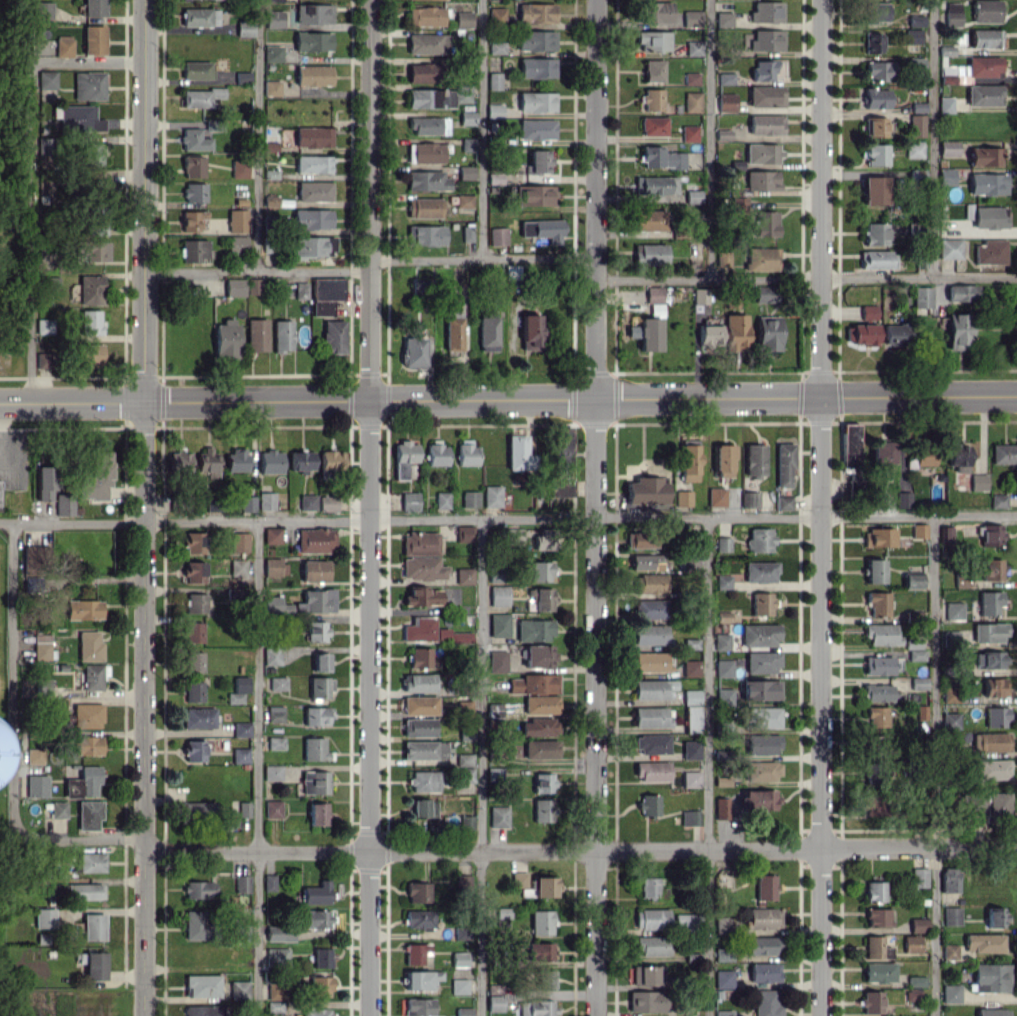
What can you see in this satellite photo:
building: (94, 7)
building: (42, 10)
building: (655, 11)
building: (766, 11)
building: (985, 11)
building: (875, 12)
building: (313, 13)
building: (536, 13)
building: (952, 14)
building: (496, 15)
building: (425, 16)
building: (199, 17)
building: (691, 18)
building: (273, 19)
building: (463, 19)
building: (723, 19)
building: (915, 20)
building: (244, 28)
building: (912, 36)
building: (984, 38)
building: (93, 39)
building: (536, 40)
building: (653, 40)
building: (766, 40)
building: (312, 41)
building: (871, 42)
building: (427, 43)
building: (63, 47)
building: (693, 47)
building: (272, 53)
road: (85, 62)
building: (915, 64)
building: (536, 67)
building: (966, 67)
building: (196, 70)
building: (653, 70)
building: (762, 70)
building: (877, 70)
building: (423, 72)
building: (313, 75)
building: (242, 76)
building: (725, 78)
building: (45, 79)
building: (493, 80)
building: (88, 85)
building: (271, 88)
building: (462, 93)
building: (983, 94)
building: (764, 96)
building: (199, 97)
building: (429, 98)
building: (875, 98)
building: (652, 99)
building: (536, 102)
building: (691, 102)
building: (725, 102)
building: (944, 104)
building: (917, 106)
building: (494, 110)
building: (466, 117)
building: (79, 118)
building: (765, 124)
building: (428, 125)
building: (916, 125)
building: (653, 126)
building: (875, 127)
road: (481, 129)
building: (536, 129)
building: (688, 133)
road: (256, 135)
building: (312, 136)
road: (931, 138)
building: (194, 139)
road: (708, 139)
building: (467, 144)
building: (948, 147)
building: (913, 149)
building: (425, 152)
building: (92, 153)
building: (761, 153)
building: (875, 154)
building: (984, 156)
building: (661, 158)
building: (539, 160)
building: (312, 164)
building: (191, 166)
building: (239, 169)
building: (465, 172)
building: (945, 176)
building: (427, 180)
building: (760, 180)
building: (987, 183)
building: (653, 185)
building: (102, 187)
building: (873, 190)
building: (314, 191)
building: (194, 192)
building: (692, 193)
building: (535, 195)
building: (270, 200)
building: (463, 201)
building: (423, 207)
building: (989, 217)
building: (312, 218)
building: (193, 220)
building: (237, 220)
building: (649, 220)
building: (765, 223)
building: (100, 228)
building: (542, 229)
road: (28, 232)
building: (466, 233)
building: (874, 234)
building: (426, 235)
building: (497, 236)
building: (237, 244)
building: (313, 246)
building: (949, 248)
building: (194, 249)
building: (96, 251)
building: (989, 252)
building: (650, 254)
road: (481, 257)
building: (760, 258)
building: (876, 259)
road: (256, 271)
building: (511, 272)
road: (805, 278)
building: (254, 286)
building: (420, 286)
building: (234, 287)
building: (328, 288)
building: (90, 289)
building: (300, 290)
building: (960, 292)
building: (765, 293)
building: (653, 294)
building: (921, 296)
building: (700, 299)
building: (322, 307)
building: (868, 313)
building: (90, 323)
building: (43, 325)
building: (530, 331)
building: (957, 331)
building: (454, 332)
building: (735, 332)
building: (487, 333)
building: (767, 333)
building: (860, 333)
building: (256, 334)
building: (648, 334)
building: (895, 334)
building: (282, 335)
building: (708, 335)
building: (333, 336)
building: (225, 339)
building: (413, 348)
building: (90, 355)
building: (42, 360)
road: (508, 398)
building: (848, 444)
building: (436, 453)
building: (466, 453)
building: (518, 453)
building: (881, 453)
building: (1003, 453)
building: (957, 455)
building: (403, 458)
building: (236, 459)
building: (721, 460)
building: (753, 460)
building: (270, 461)
building: (301, 461)
building: (180, 462)
building: (207, 462)
building: (688, 462)
building: (562, 465)
building: (782, 465)
building: (96, 474)
building: (45, 481)
building: (977, 482)
building: (646, 490)
building: (492, 495)
building: (715, 496)
building: (682, 498)
building: (469, 499)
building: (749, 499)
building: (902, 499)
building: (266, 500)
building: (441, 500)
building: (997, 500)
building: (409, 501)
building: (307, 502)
building: (783, 502)
building: (247, 503)
building: (327, 503)
building: (59, 504)
road: (142, 507)
road: (369, 507)
road: (594, 507)
road: (820, 507)
road: (508, 518)
building: (918, 530)
building: (464, 533)
building: (945, 534)
building: (990, 534)
building: (272, 535)
building: (877, 537)
building: (642, 539)
building: (758, 539)
building: (315, 540)
building: (193, 542)
building: (238, 543)
building: (419, 543)
building: (722, 544)
building: (30, 557)
building: (422, 568)
building: (991, 569)
building: (314, 570)
building: (193, 571)
building: (539, 571)
building: (873, 571)
building: (759, 572)
building: (463, 575)
building: (911, 580)
building: (961, 580)
building: (722, 581)
building: (649, 583)
building: (498, 595)
building: (422, 596)
building: (542, 599)
building: (195, 602)
building: (988, 602)
building: (761, 603)
building: (877, 603)
building: (272, 604)
building: (82, 609)
building: (649, 609)
building: (953, 611)
building: (722, 616)
building: (499, 624)
building: (534, 629)
building: (316, 630)
building: (193, 631)
building: (431, 632)
building: (989, 632)
building: (881, 634)
building: (649, 635)
building: (758, 635)
building: (950, 637)
building: (720, 641)
building: (690, 643)
building: (41, 645)
building: (89, 646)
building: (271, 655)
building: (915, 655)
building: (539, 656)
building: (422, 658)
building: (498, 659)
building: (987, 659)
building: (193, 661)
building: (320, 661)
building: (650, 662)
building: (760, 662)
building: (878, 665)
building: (690, 668)
building: (723, 668)
building: (91, 677)
building: (418, 682)
building: (918, 682)
building: (277, 683)
building: (533, 683)
building: (993, 686)
building: (325, 687)
building: (652, 688)
building: (238, 689)
building: (759, 689)
building: (194, 691)
building: (877, 692)
building: (949, 693)
building: (690, 696)
building: (724, 696)
building: (541, 704)
building: (419, 705)
building: (493, 709)
building: (86, 714)
building: (316, 715)
building: (274, 716)
building: (878, 716)
building: (995, 716)
building: (198, 717)
building: (650, 717)
building: (763, 717)
building: (691, 718)
building: (950, 720)
building: (418, 727)
building: (538, 727)
building: (241, 729)
road: (12, 740)
building: (989, 741)
building: (275, 742)
building: (875, 743)
building: (86, 744)
building: (651, 744)
building: (761, 744)
building: (315, 749)
building: (424, 749)
building: (535, 749)
building: (194, 750)
building: (689, 750)
building: (240, 755)
building: (34, 756)
road: (934, 765)
road: (706, 766)
road: (480, 767)
road: (257, 768)
building: (992, 769)
building: (651, 771)
building: (762, 771)
building: (272, 772)
building: (495, 774)
building: (466, 775)
building: (89, 779)
building: (690, 779)
building: (424, 780)
building: (314, 782)
building: (542, 782)
building: (37, 785)
building: (757, 799)
building: (647, 804)
building: (977, 804)
building: (998, 804)
building: (871, 805)
building: (199, 808)
building: (239, 808)
building: (273, 808)
building: (423, 808)
building: (720, 808)
building: (58, 809)
building: (543, 810)
building: (317, 813)
building: (88, 814)
building: (498, 816)
building: (689, 817)
building: (467, 822)
road: (580, 851)
building: (90, 862)
building: (919, 877)
building: (948, 878)
building: (518, 879)
building: (269, 882)
building: (462, 883)
building: (544, 886)
building: (648, 887)
building: (764, 887)
building: (197, 889)
building: (435, 890)
building: (75, 891)
building: (874, 891)
building: (417, 892)
building: (316, 893)
building: (951, 916)
building: (44, 917)
building: (877, 917)
building: (994, 917)
building: (318, 918)
building: (419, 918)
building: (650, 918)
building: (763, 918)
building: (680, 919)
building: (540, 922)
building: (195, 924)
building: (720, 924)
building: (917, 924)
building: (93, 926)
building: (461, 932)
building: (280, 934)
building: (983, 942)
building: (911, 943)
building: (651, 945)
building: (760, 945)
building: (875, 947)
building: (539, 951)
building: (949, 951)
building: (415, 953)
building: (277, 957)
building: (321, 957)
building: (459, 959)
building: (94, 965)
building: (763, 972)
building: (878, 972)
building: (647, 975)
building: (990, 977)
building: (723, 978)
building: (542, 979)
building: (418, 980)
building: (915, 981)
building: (321, 984)
building: (458, 985)
building: (202, 986)
building: (239, 989)
building: (276, 990)
building: (950, 993)
building: (494, 997)
building: (646, 1001)
building: (871, 1002)
building: (765, 1003)
building: (418, 1006)
building: (274, 1008)
building: (536, 1008)
building: (203, 1010)
building: (463, 1011)
building: (316, 1012)
building: (722, 1012)
building: (991, 1012)

